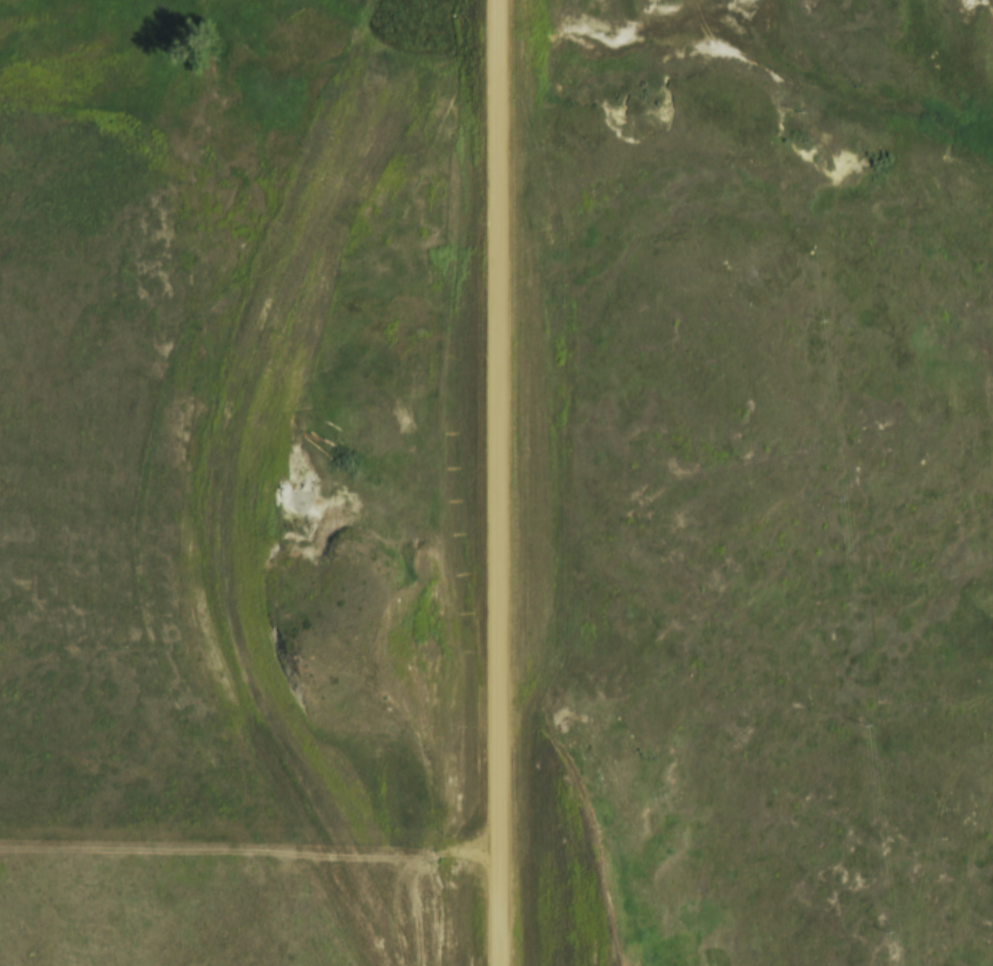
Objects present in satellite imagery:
road: (235, 487)

